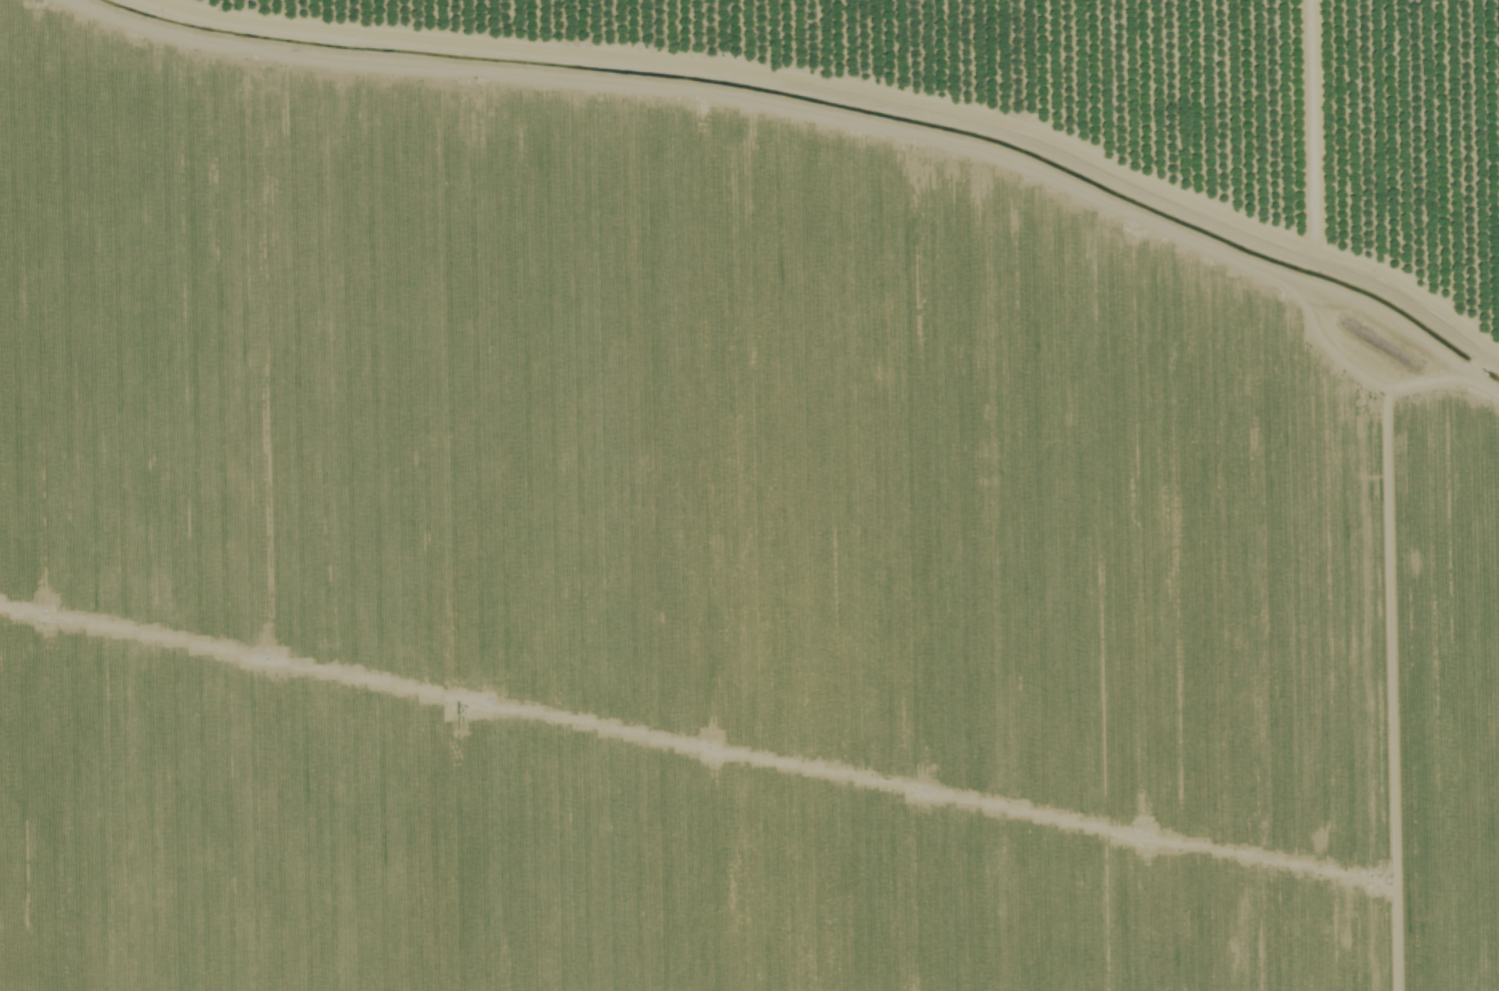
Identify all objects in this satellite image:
crop: (1107, 90)
crop: (702, 560)

